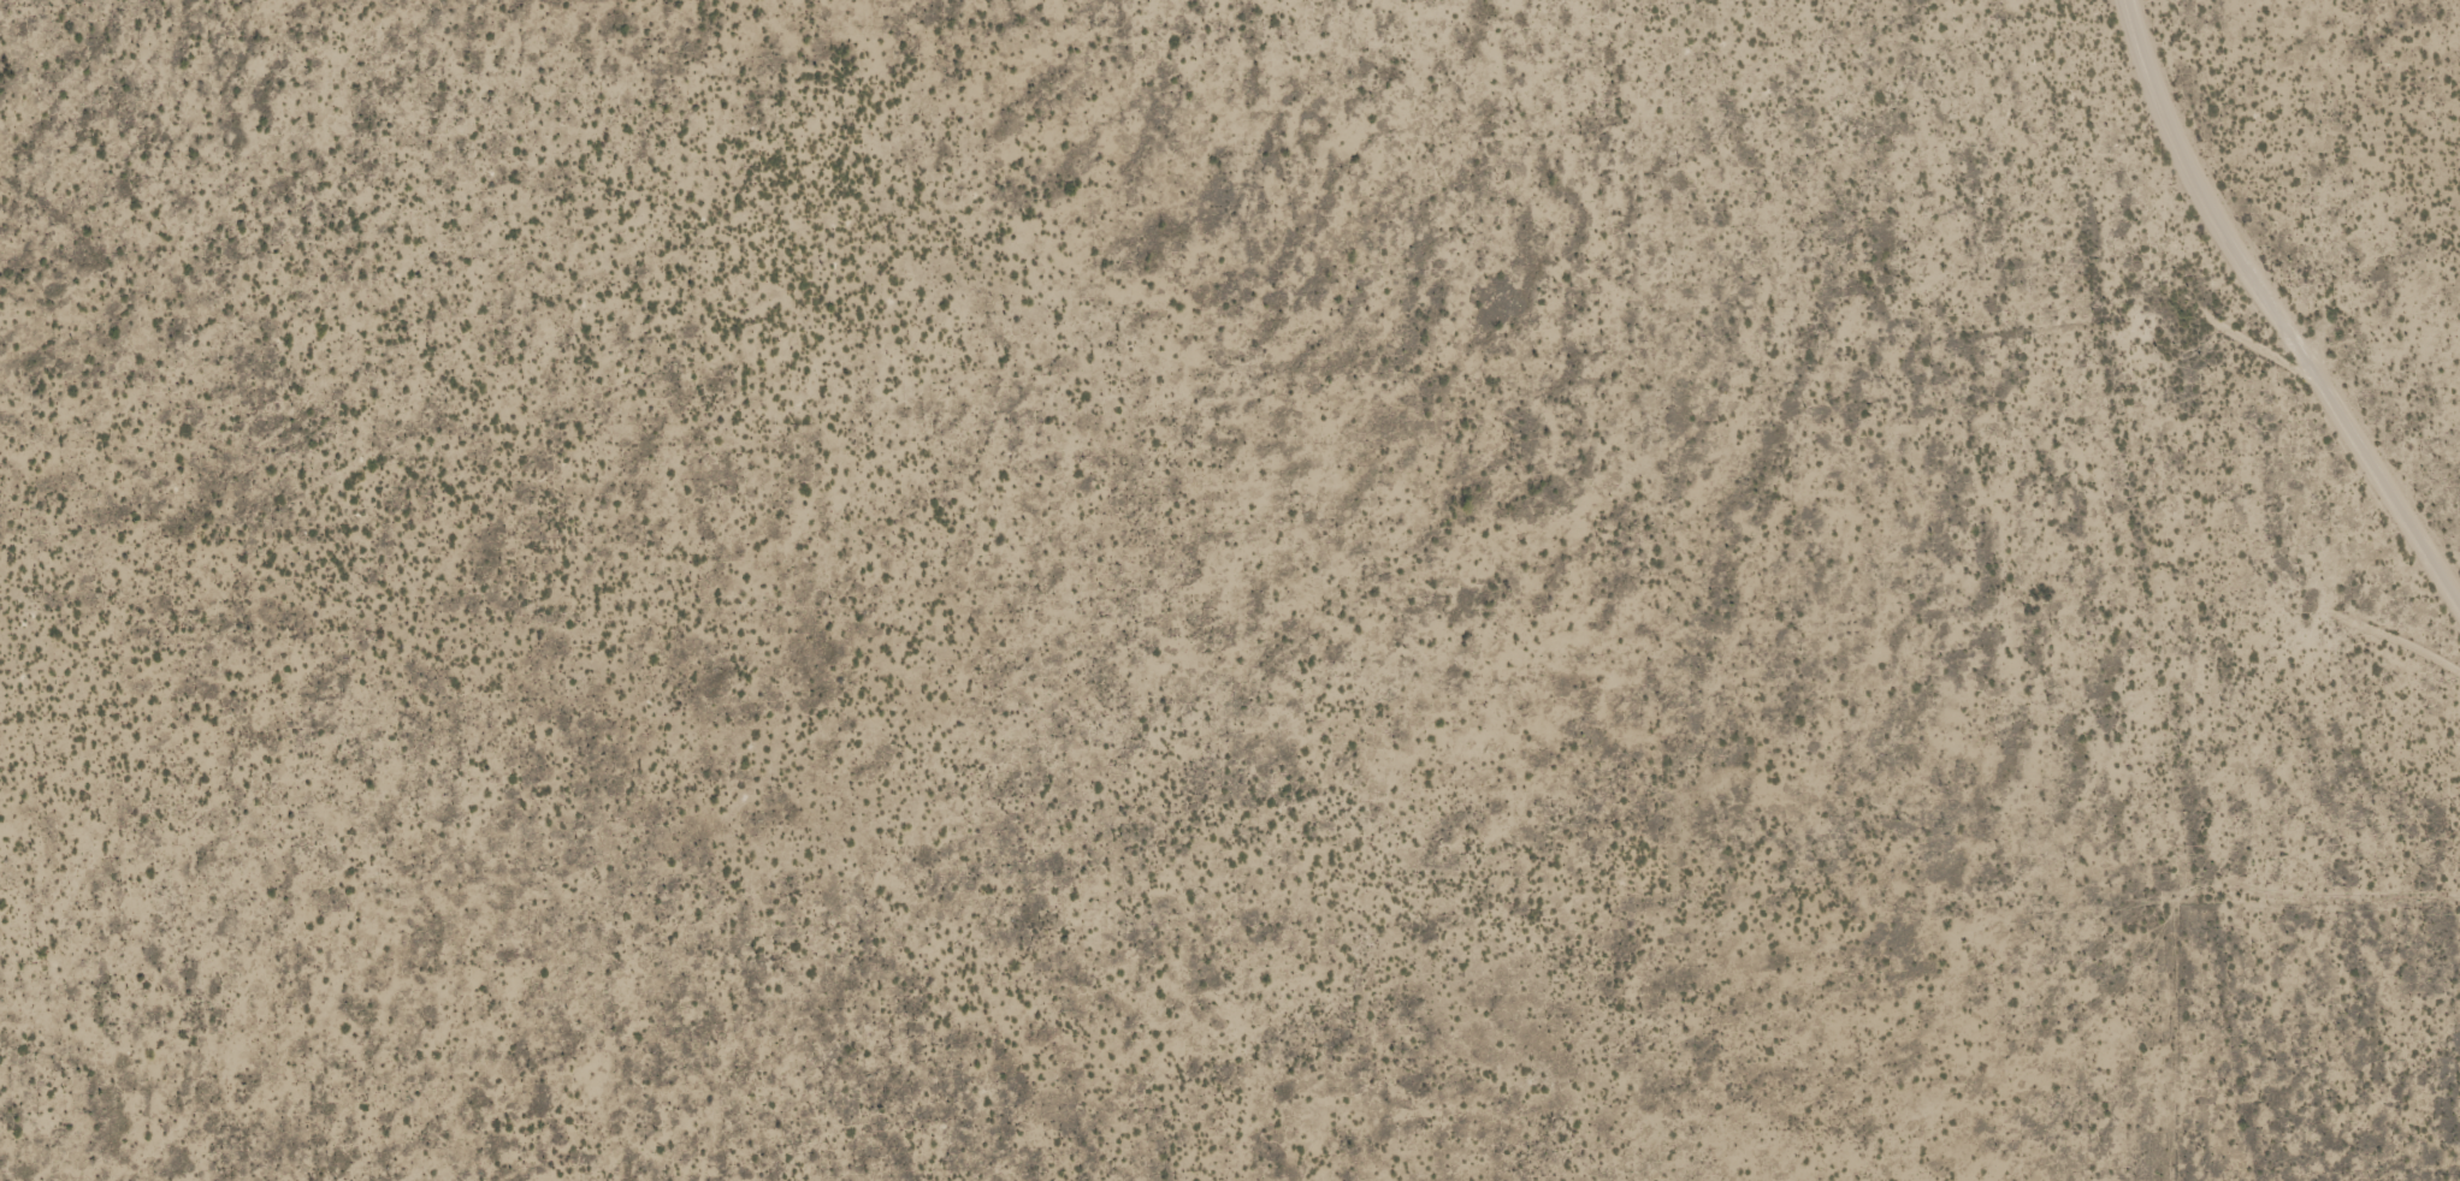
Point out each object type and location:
road: (2265, 324)

